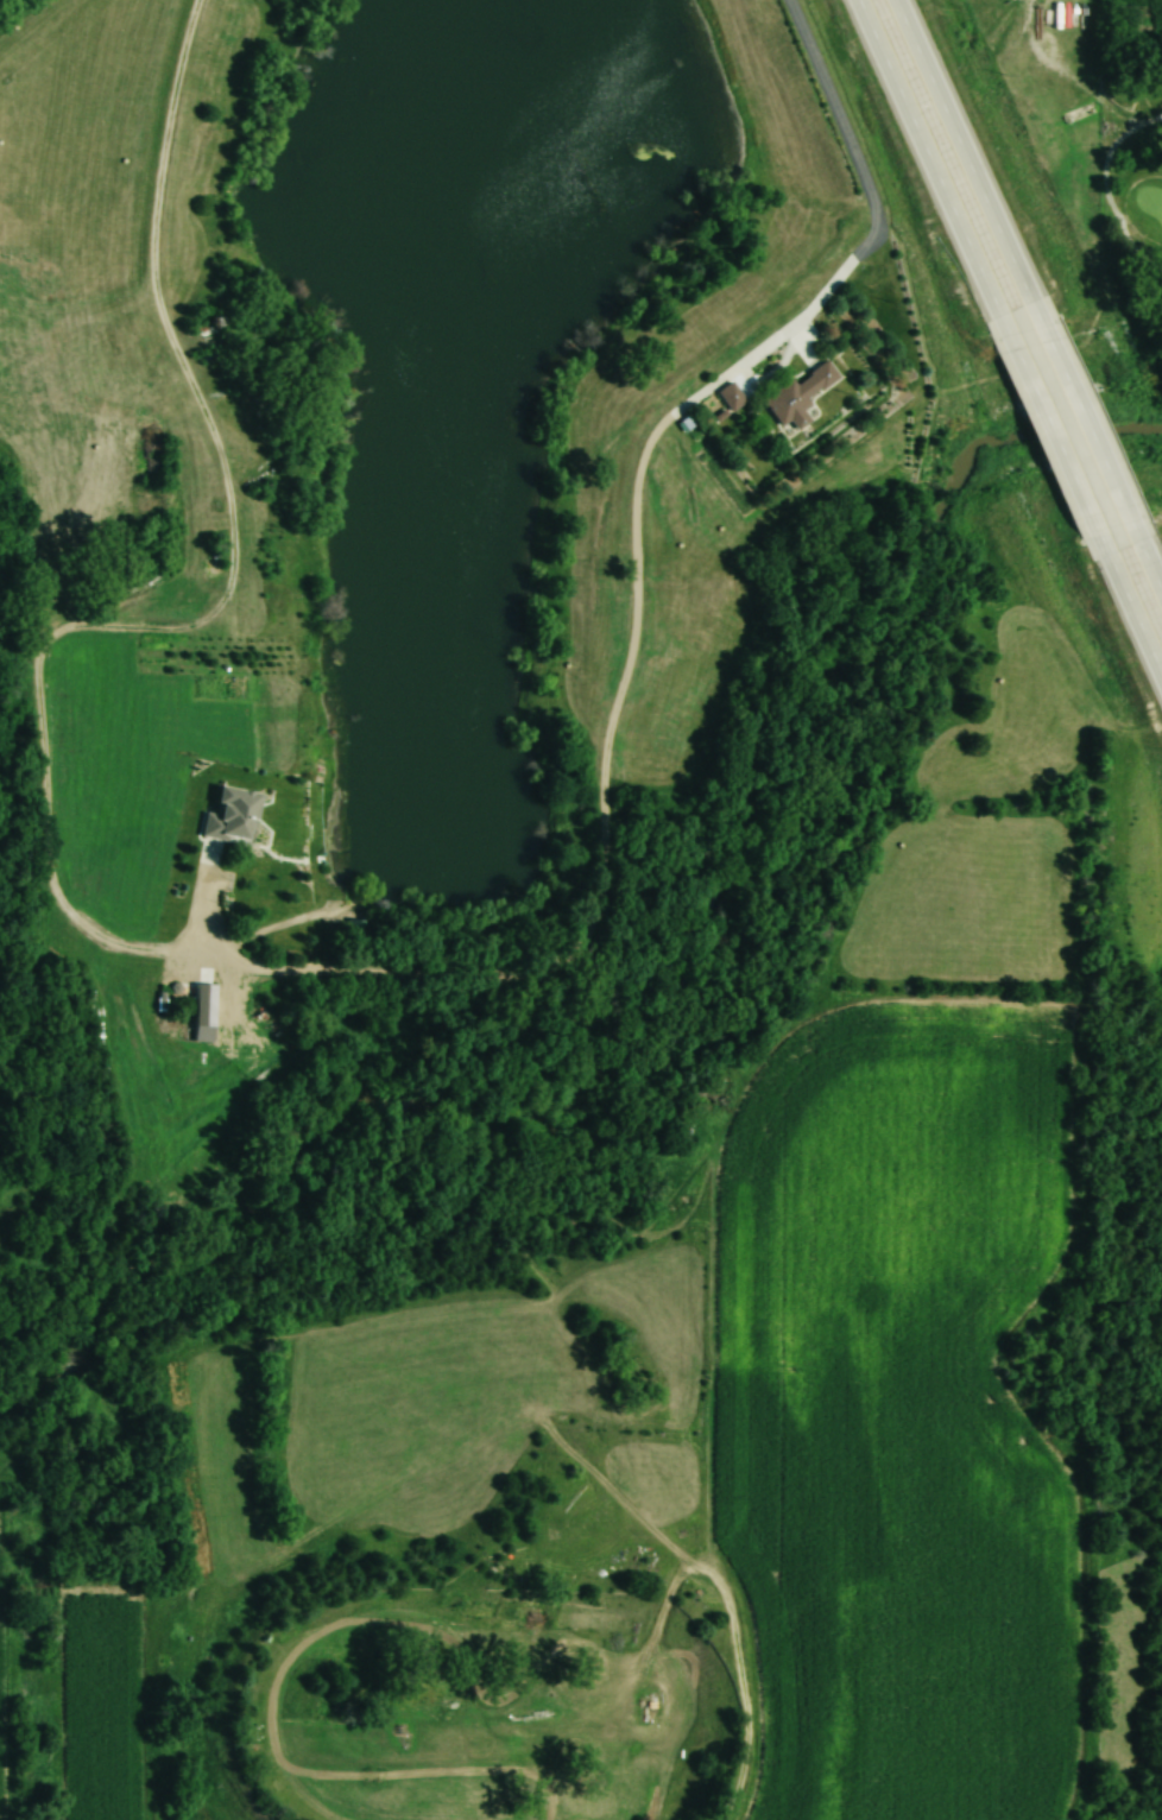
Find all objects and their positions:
road: (972, 146)
road: (941, 153)
road: (1117, 182)
park: (1129, 185)
building: (797, 396)
building: (728, 397)
road: (1092, 416)
road: (1063, 426)
building: (1131, 505)
road: (1154, 557)
road: (1139, 601)
building: (229, 816)
road: (442, 975)
crop: (899, 1414)
crop: (103, 1701)

